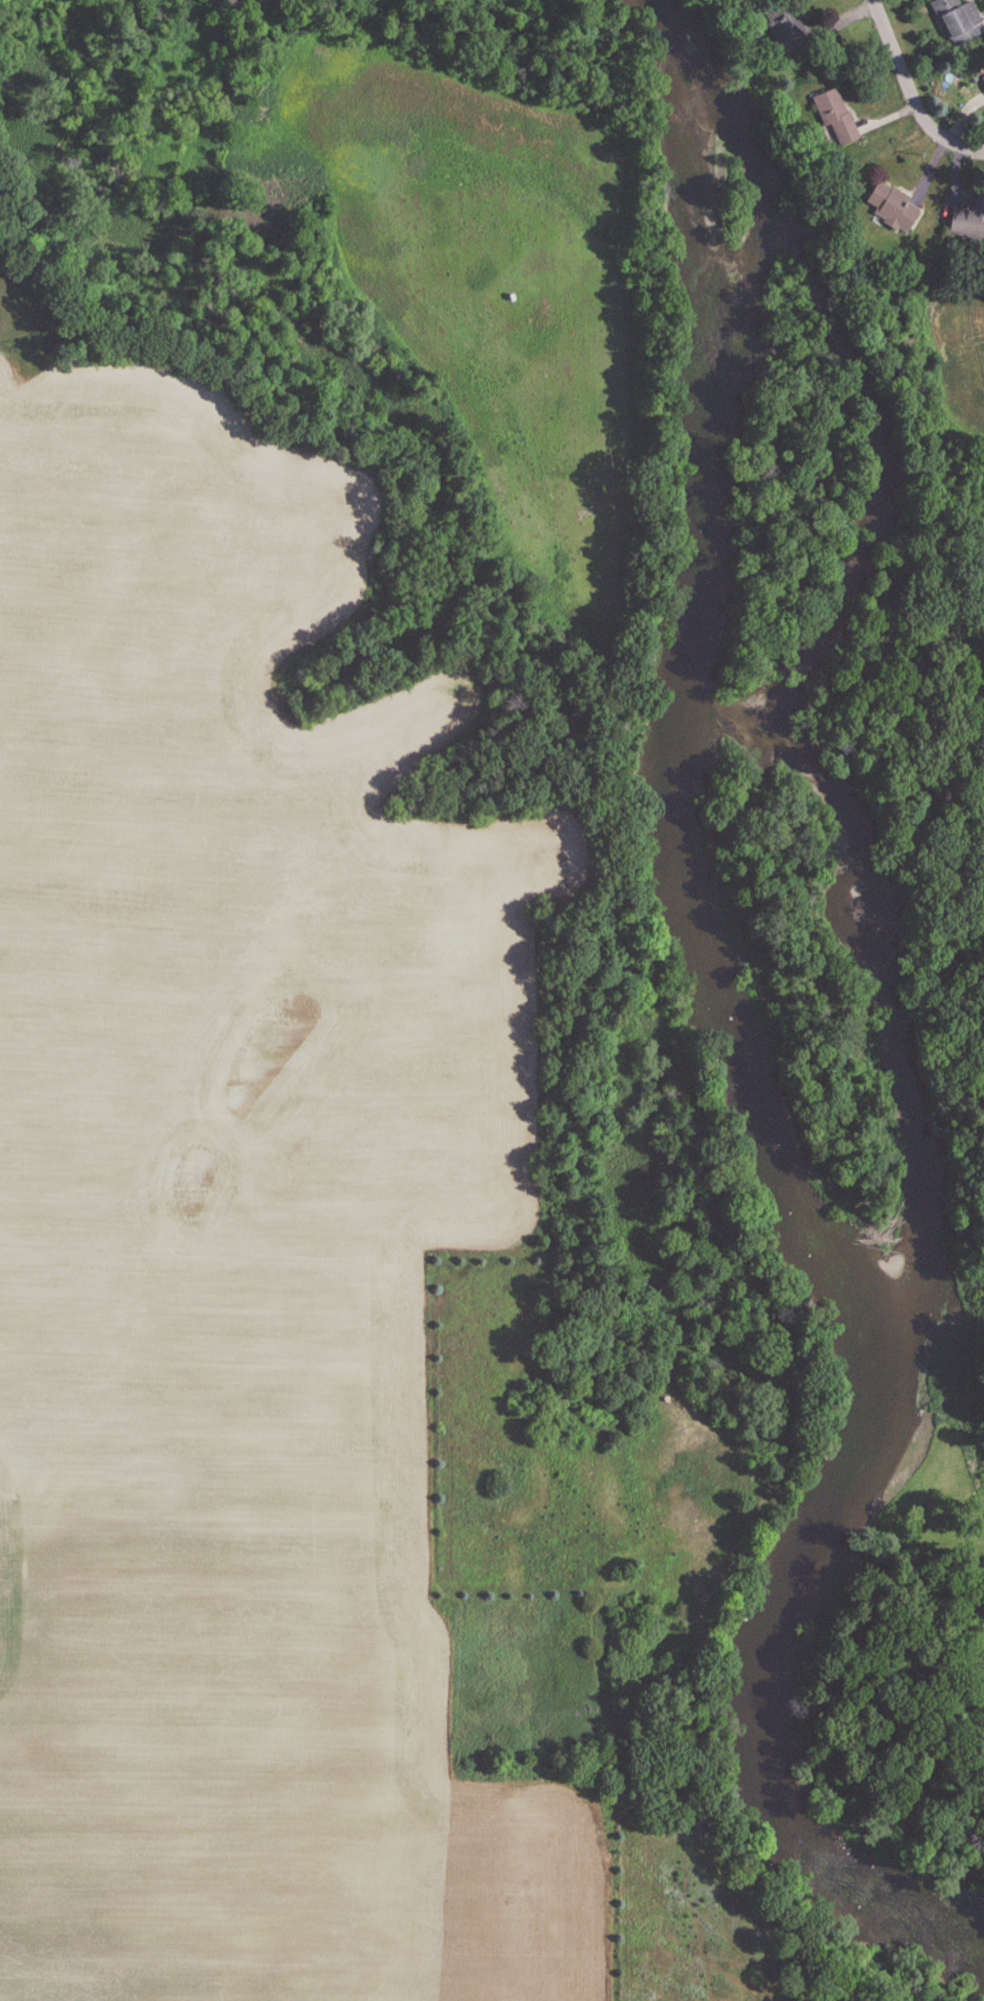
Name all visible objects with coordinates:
building: (958, 20)
building: (783, 21)
building: (983, 77)
road: (912, 90)
building: (834, 115)
building: (891, 206)
building: (969, 220)
river: (747, 1060)

